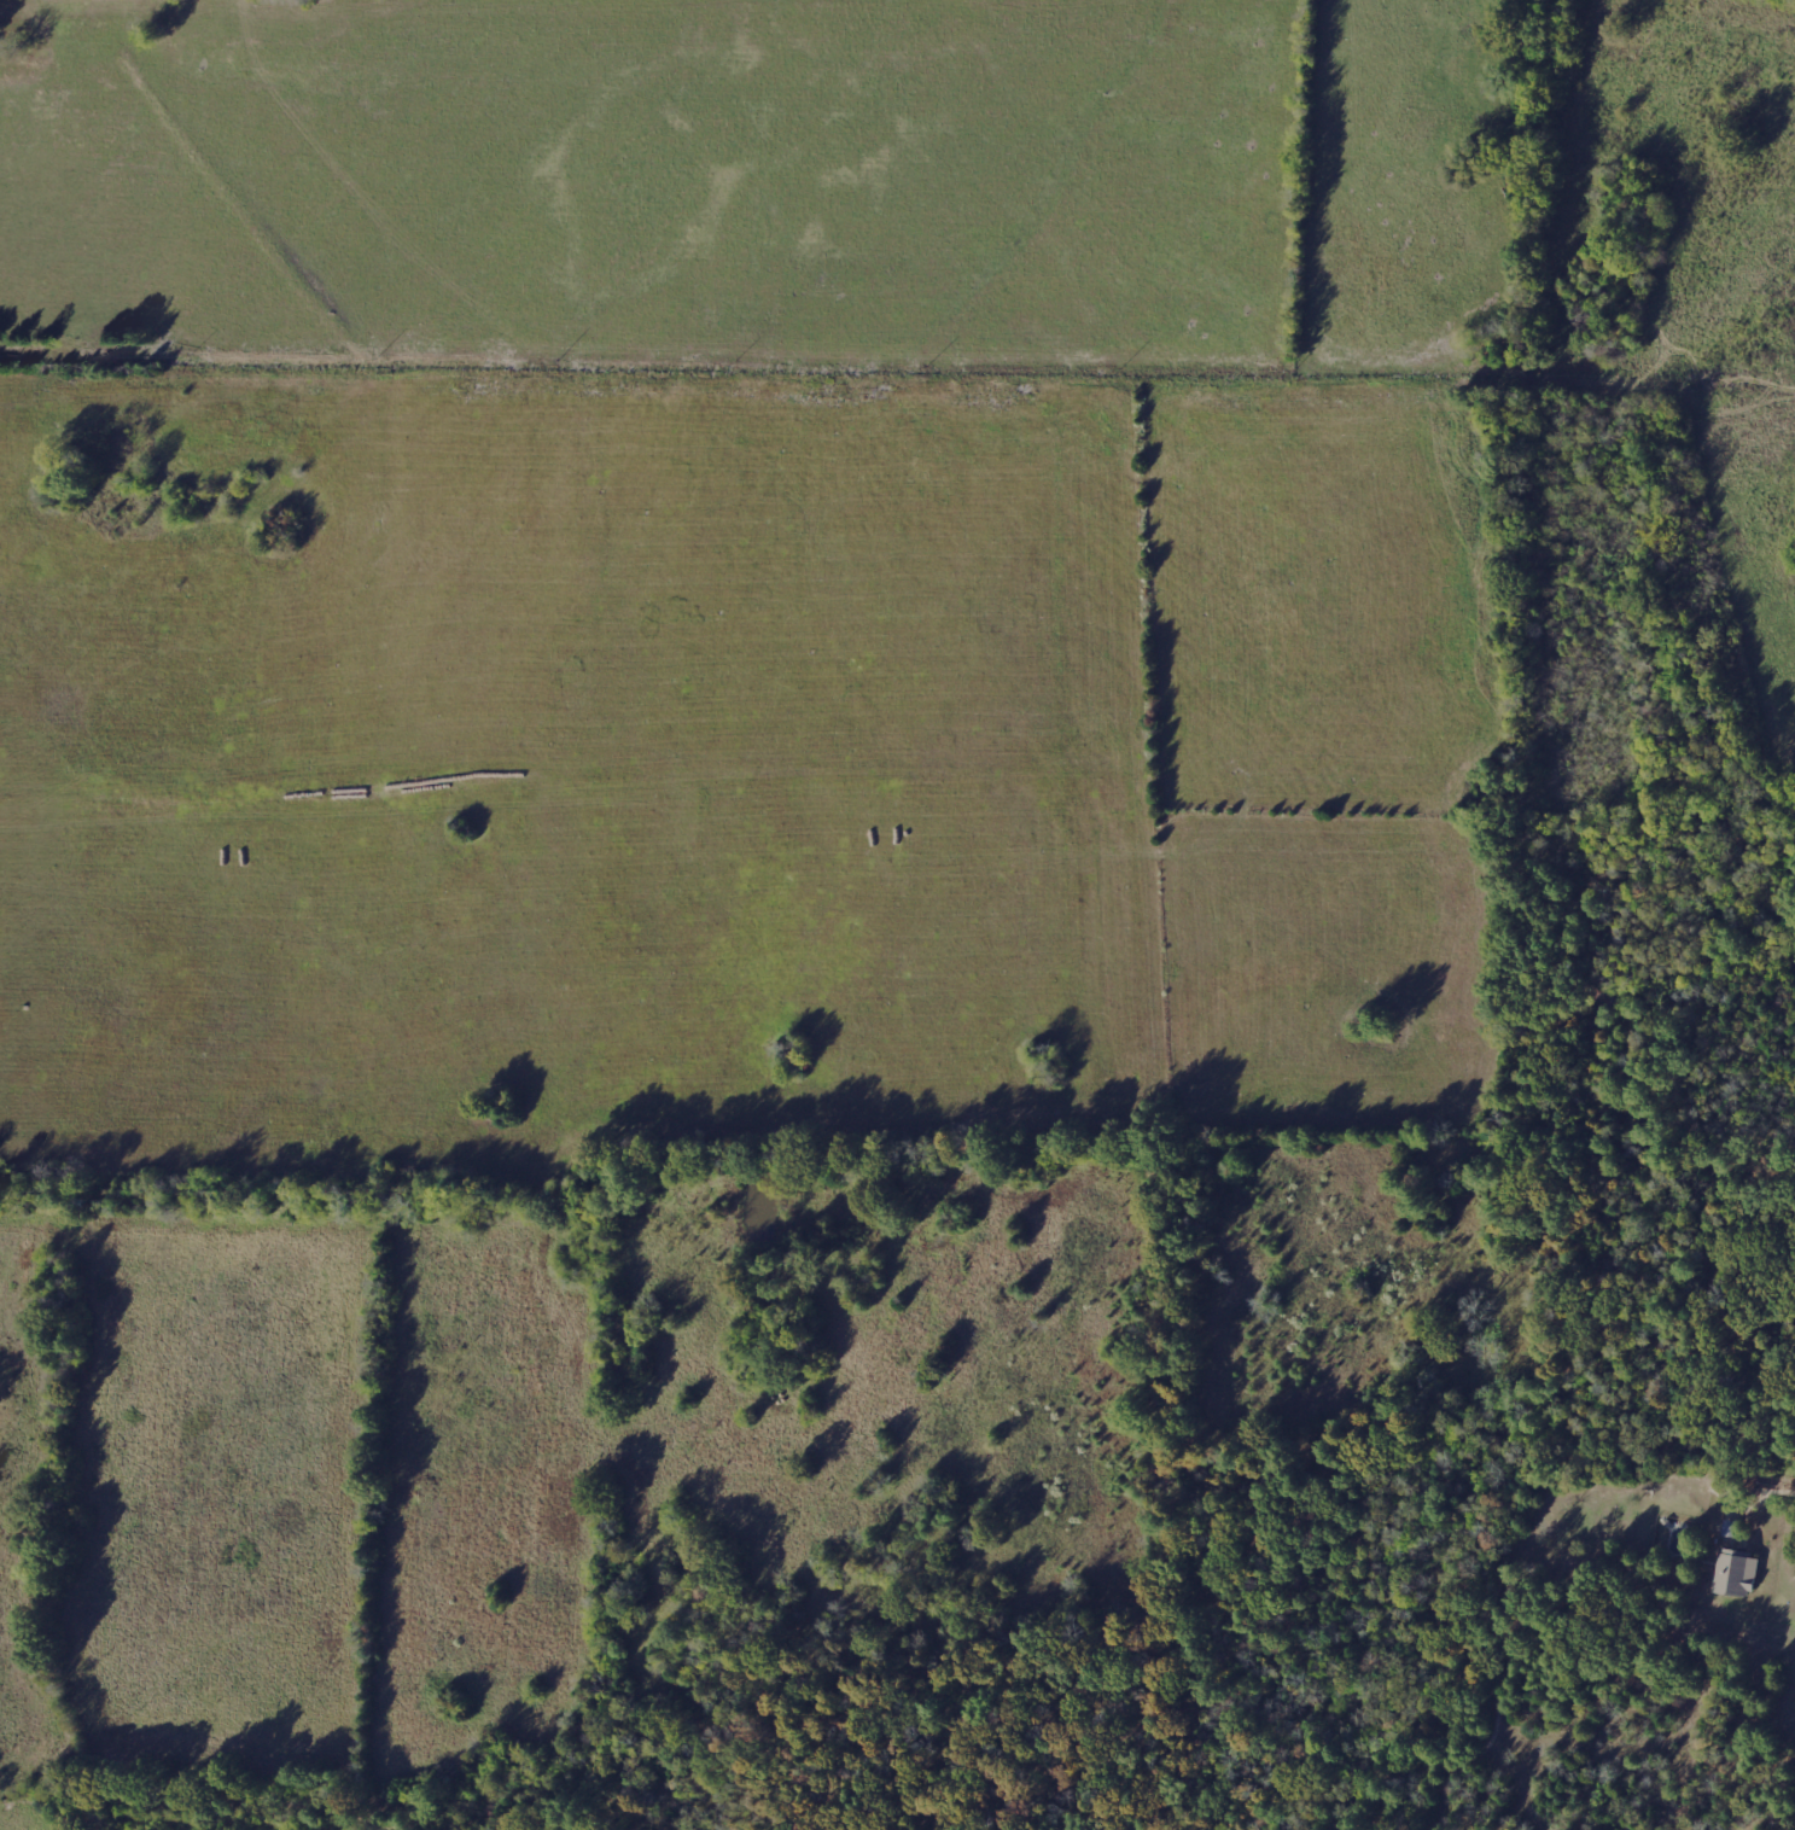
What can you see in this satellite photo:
building: (1736, 1574)

